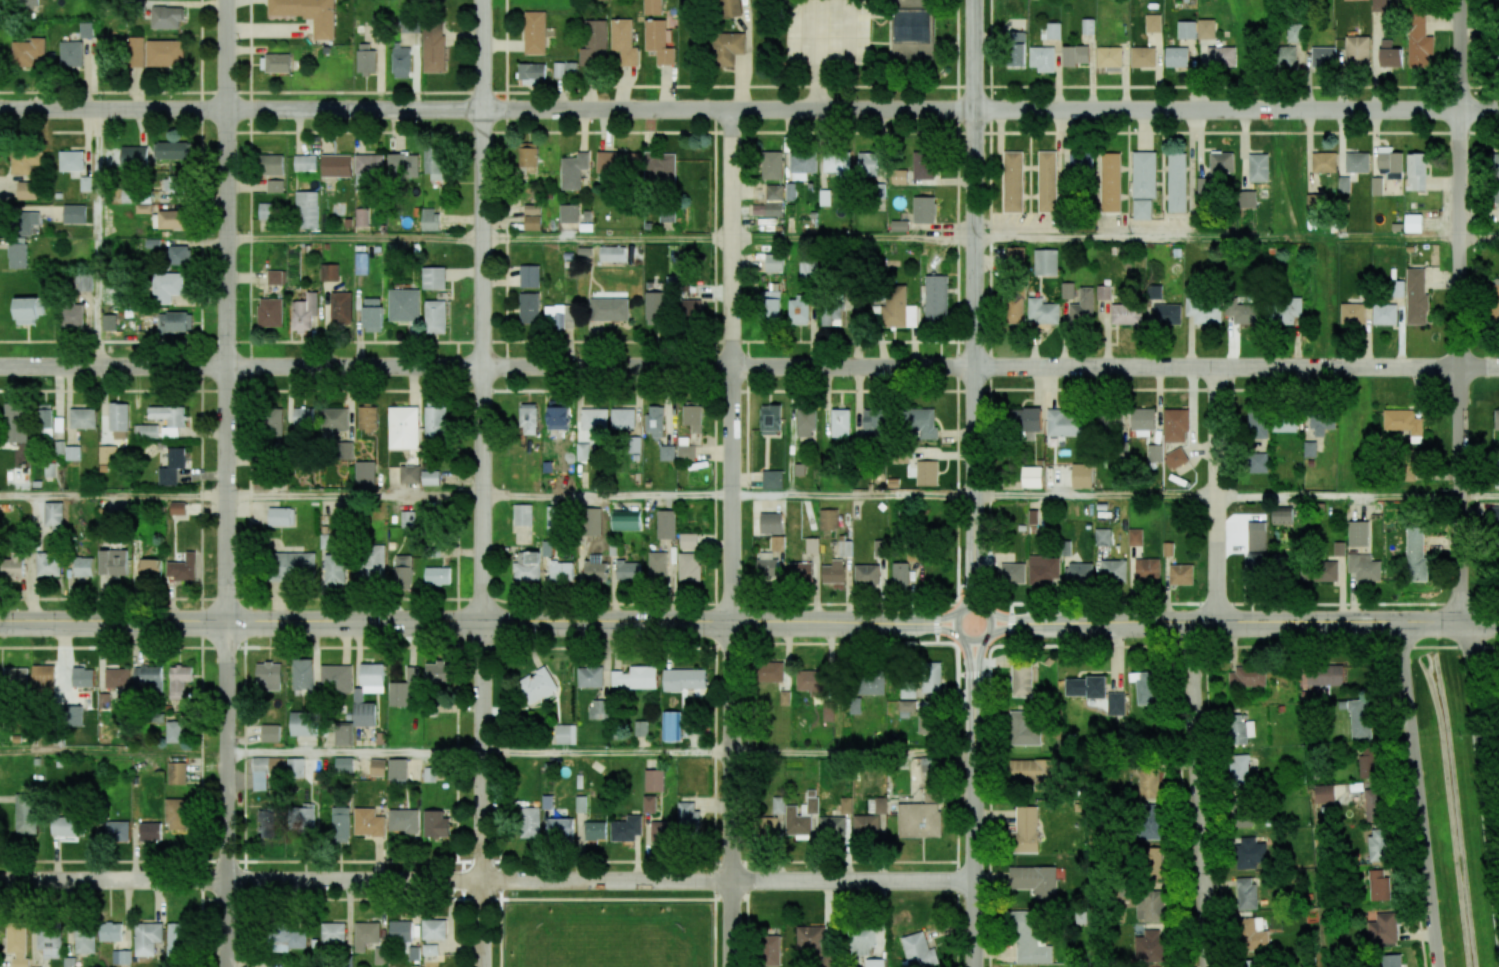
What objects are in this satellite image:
building: (27, 3)
building: (909, 3)
building: (1380, 5)
building: (653, 7)
building: (730, 8)
building: (307, 14)
building: (166, 17)
building: (1153, 23)
building: (1088, 26)
building: (1206, 28)
building: (86, 30)
building: (1186, 30)
building: (1053, 31)
building: (534, 32)
building: (1295, 32)
building: (913, 36)
building: (658, 41)
building: (1418, 41)
building: (593, 42)
building: (624, 42)
building: (1495, 45)
road: (505, 46)
building: (433, 48)
building: (727, 48)
building: (1015, 48)
building: (28, 51)
building: (135, 51)
building: (1357, 51)
building: (165, 53)
building: (72, 54)
building: (1389, 54)
building: (1075, 55)
building: (1142, 56)
building: (1221, 56)
building: (1285, 56)
building: (1176, 57)
building: (1323, 57)
building: (365, 58)
building: (1110, 58)
building: (1042, 59)
building: (401, 62)
building: (275, 63)
building: (565, 69)
building: (531, 71)
road: (506, 101)
road: (113, 110)
road: (601, 110)
road: (1237, 110)
building: (175, 151)
building: (134, 157)
building: (528, 158)
building: (25, 161)
building: (1221, 162)
building: (1324, 162)
building: (1356, 162)
building: (1390, 162)
building: (72, 163)
building: (305, 163)
building: (434, 163)
building: (618, 163)
building: (1081, 163)
building: (271, 164)
building: (868, 164)
building: (403, 165)
building: (771, 165)
building: (802, 165)
building: (837, 165)
building: (923, 165)
building: (336, 166)
building: (368, 167)
building: (660, 167)
building: (1258, 167)
building: (574, 170)
building: (1417, 171)
building: (1144, 174)
building: (1495, 177)
building: (1047, 181)
building: (1013, 182)
building: (1110, 182)
building: (1177, 182)
building: (173, 184)
building: (1343, 184)
building: (1204, 185)
building: (274, 186)
building: (1376, 186)
building: (27, 190)
building: (774, 191)
building: (1246, 199)
building: (1314, 203)
building: (307, 209)
building: (758, 209)
building: (774, 209)
building: (924, 209)
building: (1142, 209)
building: (74, 213)
building: (265, 213)
building: (569, 213)
building: (685, 215)
building: (362, 216)
building: (532, 217)
building: (171, 219)
building: (429, 219)
building: (26, 221)
building: (1413, 223)
building: (899, 225)
road: (354, 237)
road: (606, 238)
road: (96, 239)
road: (852, 239)
road: (1216, 239)
road: (1479, 239)
building: (178, 254)
building: (612, 254)
building: (1015, 254)
building: (17, 255)
building: (1046, 262)
building: (361, 263)
building: (774, 263)
building: (329, 272)
building: (529, 276)
building: (276, 277)
building: (433, 278)
building: (83, 282)
building: (167, 287)
building: (1397, 289)
building: (1068, 290)
building: (1103, 292)
building: (1416, 297)
building: (936, 298)
road: (975, 300)
building: (1495, 300)
building: (403, 305)
building: (655, 305)
building: (770, 305)
building: (341, 307)
building: (1083, 307)
building: (529, 308)
building: (690, 308)
building: (28, 309)
building: (608, 309)
building: (895, 309)
building: (798, 310)
building: (1014, 310)
building: (1204, 310)
building: (1287, 310)
road: (224, 311)
building: (305, 311)
road: (483, 311)
building: (1043, 311)
building: (270, 312)
road: (1457, 312)
building: (1127, 313)
building: (1243, 313)
building: (1352, 313)
building: (372, 314)
building: (1167, 314)
building: (1384, 314)
building: (72, 315)
building: (435, 316)
building: (559, 316)
building: (831, 316)
building: (109, 322)
building: (175, 322)
road: (730, 366)
road: (111, 368)
road: (861, 368)
building: (557, 415)
building: (303, 416)
building: (692, 417)
building: (82, 418)
building: (169, 418)
building: (367, 418)
building: (594, 418)
building: (622, 418)
building: (528, 419)
building: (771, 419)
building: (119, 420)
building: (654, 420)
building: (1026, 420)
building: (1108, 420)
building: (1496, 420)
building: (45, 421)
building: (333, 421)
building: (435, 421)
building: (16, 422)
building: (806, 422)
building: (921, 422)
building: (1065, 422)
building: (1142, 422)
building: (274, 423)
building: (840, 423)
building: (872, 423)
building: (1284, 423)
building: (1321, 423)
building: (1404, 423)
building: (1258, 424)
building: (1175, 425)
building: (403, 427)
building: (149, 431)
building: (1309, 449)
building: (346, 450)
building: (667, 452)
building: (685, 452)
building: (1154, 452)
building: (72, 453)
building: (107, 454)
building: (1175, 458)
building: (1258, 462)
building: (172, 466)
building: (364, 472)
building: (926, 473)
building: (1497, 473)
building: (409, 474)
building: (1082, 475)
building: (430, 477)
building: (1031, 477)
building: (772, 479)
road: (606, 495)
road: (852, 495)
road: (1094, 495)
road: (1214, 495)
road: (1336, 495)
road: (1479, 495)
road: (353, 496)
road: (112, 497)
building: (177, 508)
building: (53, 514)
building: (522, 514)
building: (1282, 516)
building: (281, 517)
building: (407, 518)
building: (829, 519)
building: (626, 520)
building: (552, 521)
building: (592, 521)
building: (1036, 521)
building: (771, 523)
building: (666, 524)
building: (1495, 525)
building: (1358, 534)
building: (1102, 536)
building: (1135, 537)
building: (1256, 540)
building: (688, 541)
building: (778, 543)
building: (812, 545)
building: (845, 548)
road: (988, 553)
building: (1415, 556)
building: (113, 562)
building: (372, 562)
building: (1256, 563)
building: (48, 564)
building: (12, 565)
building: (294, 565)
building: (657, 565)
building: (527, 566)
building: (689, 566)
building: (84, 567)
building: (1364, 567)
building: (150, 568)
building: (183, 568)
building: (767, 568)
building: (594, 569)
building: (628, 570)
building: (1113, 570)
building: (1147, 570)
building: (335, 571)
building: (403, 571)
building: (561, 571)
building: (800, 571)
building: (1043, 571)
building: (1325, 571)
building: (1080, 572)
building: (834, 573)
building: (1012, 573)
building: (1180, 574)
building: (1303, 574)
building: (867, 575)
building: (900, 575)
building: (437, 576)
road: (972, 587)
road: (776, 600)
road: (112, 622)
traffic signals: (381, 623)
road: (589, 623)
road: (1230, 623)
road: (1481, 623)
road: (954, 630)
building: (438, 671)
building: (770, 672)
building: (149, 675)
building: (1321, 675)
building: (268, 676)
building: (83, 677)
building: (303, 677)
building: (590, 677)
building: (931, 677)
building: (1247, 677)
building: (16, 678)
building: (43, 678)
building: (117, 678)
building: (336, 678)
building: (635, 678)
building: (684, 679)
building: (810, 680)
building: (1021, 680)
building: (178, 681)
building: (870, 685)
building: (537, 686)
building: (1084, 687)
building: (1144, 687)
building: (405, 690)
building: (907, 692)
building: (358, 697)
building: (785, 697)
building: (1115, 703)
building: (854, 706)
building: (906, 708)
building: (599, 709)
building: (828, 711)
building: (1358, 717)
building: (926, 720)
building: (303, 723)
building: (671, 726)
building: (641, 728)
building: (1022, 729)
building: (1240, 730)
building: (175, 732)
building: (270, 733)
building: (344, 734)
building: (566, 734)
road: (112, 752)
road: (605, 752)
road: (353, 753)
road: (852, 753)
building: (1367, 763)
building: (343, 764)
building: (928, 765)
building: (1239, 766)
building: (295, 767)
building: (377, 767)
road: (1481, 768)
building: (397, 769)
building: (1032, 770)
building: (176, 773)
building: (259, 773)
building: (429, 774)
building: (654, 780)
building: (1148, 783)
building: (1323, 793)
road: (225, 795)
road: (481, 795)
road: (730, 795)
road: (1199, 795)
road: (1418, 795)
building: (649, 804)
building: (778, 804)
building: (1373, 804)
road: (975, 806)
building: (26, 813)
building: (176, 813)
building: (688, 815)
building: (801, 815)
building: (921, 815)
building: (305, 816)
building: (404, 820)
building: (267, 821)
building: (369, 821)
building: (1243, 821)
building: (529, 822)
building: (1149, 822)
building: (341, 824)
building: (436, 824)
building: (769, 825)
building: (866, 826)
building: (66, 827)
building: (833, 827)
building: (561, 828)
building: (626, 828)
building: (595, 830)
building: (1024, 830)
building: (116, 831)
building: (150, 831)
building: (662, 831)
building: (1378, 845)
building: (1250, 853)
building: (1152, 862)
road: (487, 880)
building: (1034, 880)
building: (1378, 885)
building: (1246, 894)
building: (1149, 905)
building: (434, 929)
building: (1383, 929)
building: (400, 930)
building: (111, 931)
building: (333, 932)
building: (1253, 932)
building: (365, 934)
building: (147, 938)
building: (288, 938)
building: (810, 938)
building: (177, 939)
building: (1029, 939)
building: (84, 940)
building: (860, 941)
building: (17, 942)
building: (49, 942)
building: (1148, 945)
building: (430, 949)
building: (771, 950)
building: (918, 951)
building: (121, 957)
building: (1391, 960)
building: (69, 962)
building: (874, 962)
building: (1251, 963)

